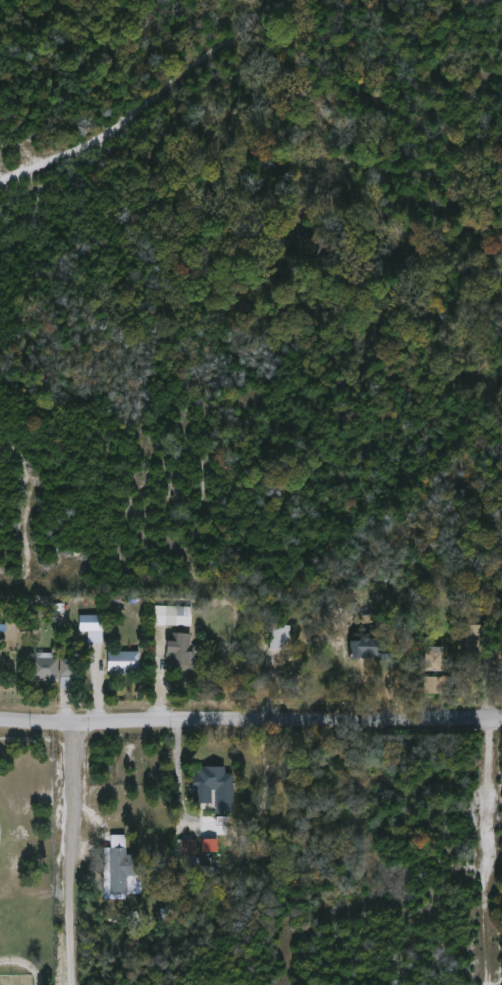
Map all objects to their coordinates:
building: (171, 616)
building: (90, 623)
building: (279, 638)
building: (371, 649)
building: (178, 652)
building: (431, 661)
building: (122, 662)
road: (487, 665)
building: (52, 669)
road: (162, 674)
road: (250, 718)
building: (209, 784)
building: (186, 849)
road: (486, 851)
road: (74, 852)
road: (281, 852)
building: (116, 873)

